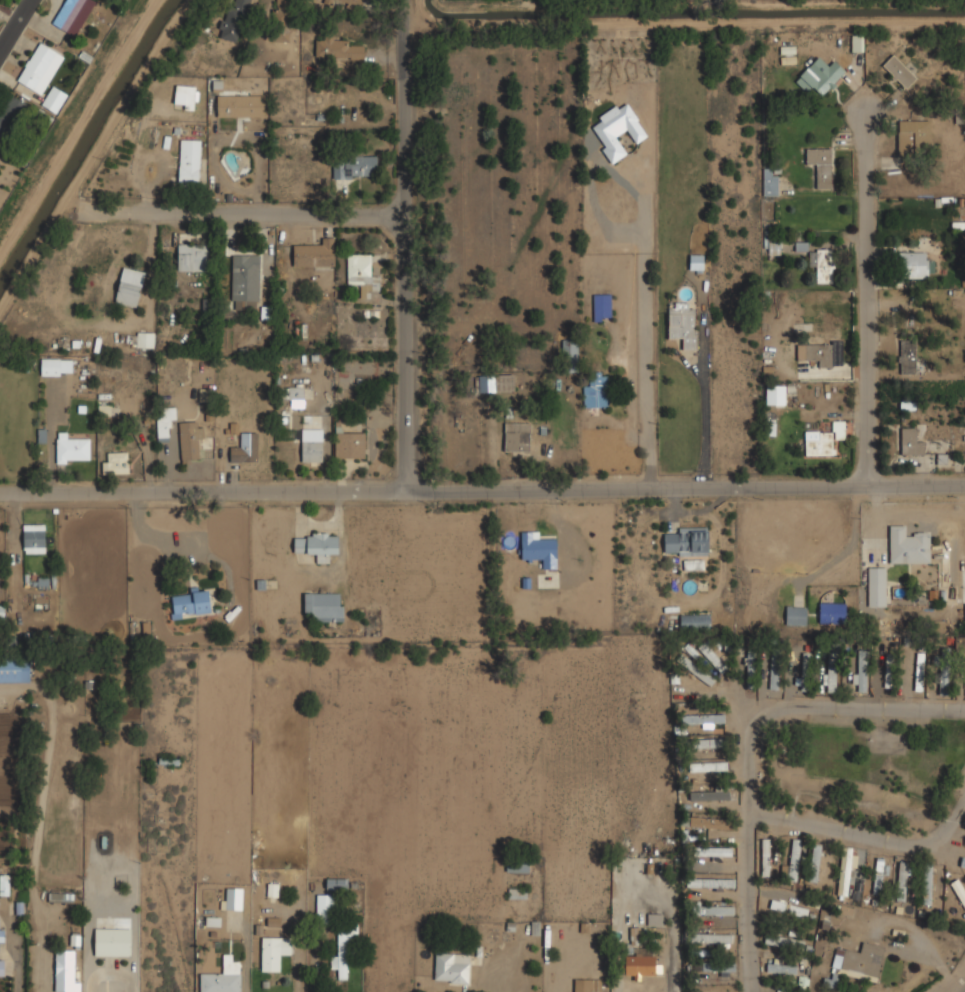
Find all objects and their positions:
building: (330, 2)
building: (351, 2)
building: (72, 15)
building: (233, 20)
building: (280, 22)
road: (21, 34)
building: (339, 49)
building: (40, 67)
building: (899, 71)
building: (820, 76)
building: (187, 96)
building: (54, 98)
building: (239, 104)
building: (11, 115)
building: (617, 130)
building: (912, 135)
building: (189, 162)
building: (821, 165)
building: (355, 166)
building: (596, 184)
building: (772, 185)
road: (256, 209)
road: (411, 246)
building: (775, 248)
building: (315, 254)
building: (192, 257)
building: (697, 261)
building: (822, 264)
building: (915, 265)
building: (361, 274)
building: (246, 277)
building: (129, 286)
building: (94, 292)
road: (873, 302)
building: (603, 306)
building: (682, 324)
building: (137, 339)
building: (820, 353)
building: (570, 355)
building: (907, 357)
building: (57, 366)
building: (486, 383)
building: (596, 391)
building: (295, 393)
building: (776, 395)
building: (109, 410)
building: (164, 421)
building: (517, 436)
building: (823, 439)
building: (191, 441)
building: (911, 441)
building: (349, 442)
building: (73, 447)
building: (245, 448)
building: (312, 451)
building: (116, 462)
road: (482, 492)
building: (34, 538)
building: (688, 541)
building: (316, 544)
building: (908, 545)
building: (540, 549)
building: (877, 586)
building: (190, 603)
building: (324, 605)
building: (964, 606)
building: (833, 612)
building: (796, 615)
building: (695, 621)
building: (728, 646)
building: (710, 654)
building: (751, 663)
building: (775, 668)
building: (831, 668)
building: (15, 670)
building: (697, 670)
building: (805, 671)
building: (861, 671)
building: (920, 672)
building: (946, 672)
building: (889, 673)
building: (705, 718)
building: (962, 726)
road: (749, 741)
building: (705, 743)
building: (708, 765)
building: (709, 794)
building: (708, 822)
road: (865, 838)
building: (713, 851)
building: (767, 857)
building: (794, 859)
building: (963, 862)
building: (816, 863)
building: (518, 866)
building: (846, 869)
building: (882, 876)
building: (903, 877)
building: (711, 882)
building: (928, 883)
building: (5, 884)
building: (337, 885)
building: (959, 890)
building: (517, 893)
building: (60, 897)
building: (233, 898)
building: (325, 908)
building: (788, 908)
building: (717, 910)
building: (654, 919)
building: (2, 935)
building: (712, 938)
building: (112, 941)
building: (784, 941)
building: (274, 951)
building: (343, 955)
building: (860, 960)
building: (780, 963)
building: (641, 965)
building: (1, 966)
building: (719, 967)
building: (452, 968)
building: (65, 971)
building: (223, 977)
building: (583, 985)
road: (962, 989)
building: (716, 990)

